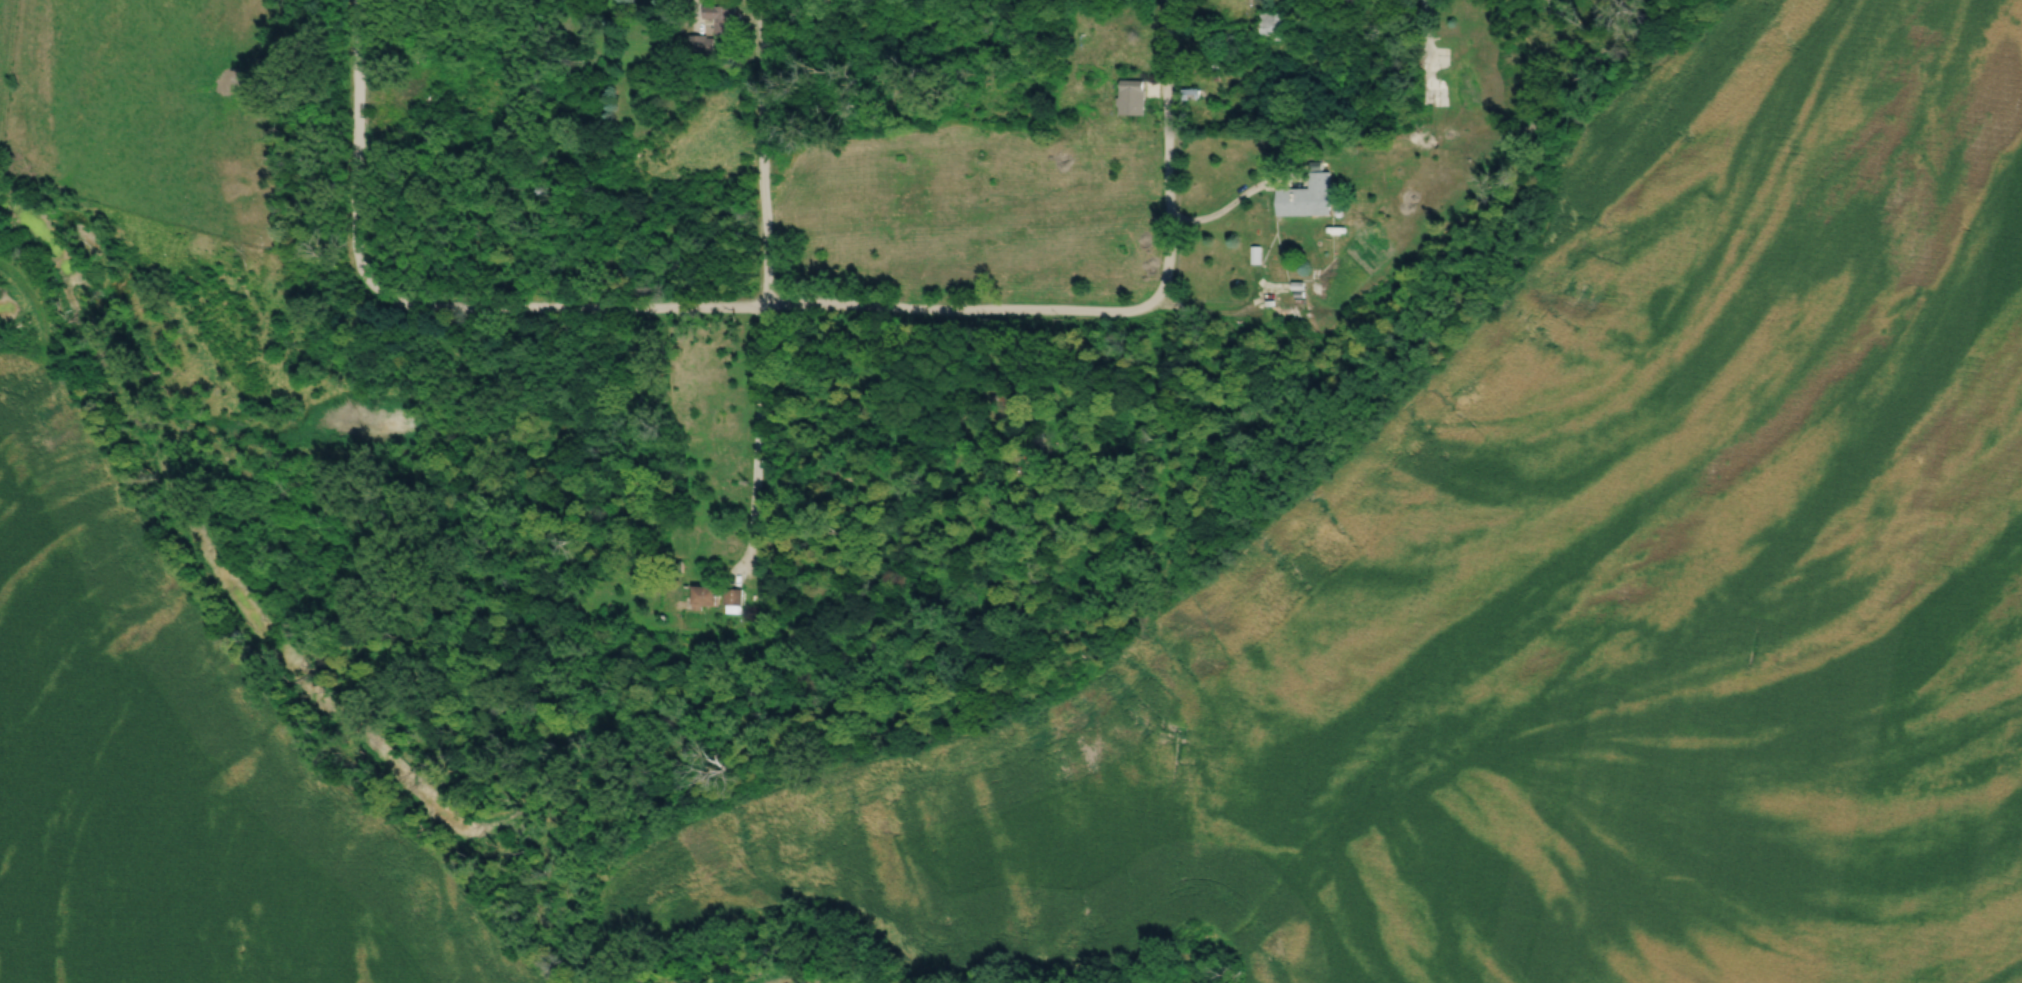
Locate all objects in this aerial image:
building: (723, 21)
building: (1275, 26)
building: (703, 46)
building: (1470, 57)
building: (1133, 98)
building: (1432, 99)
road: (360, 151)
road: (1172, 153)
building: (1309, 196)
road: (1230, 203)
road: (765, 291)
road: (764, 303)
building: (708, 598)
building: (735, 600)

